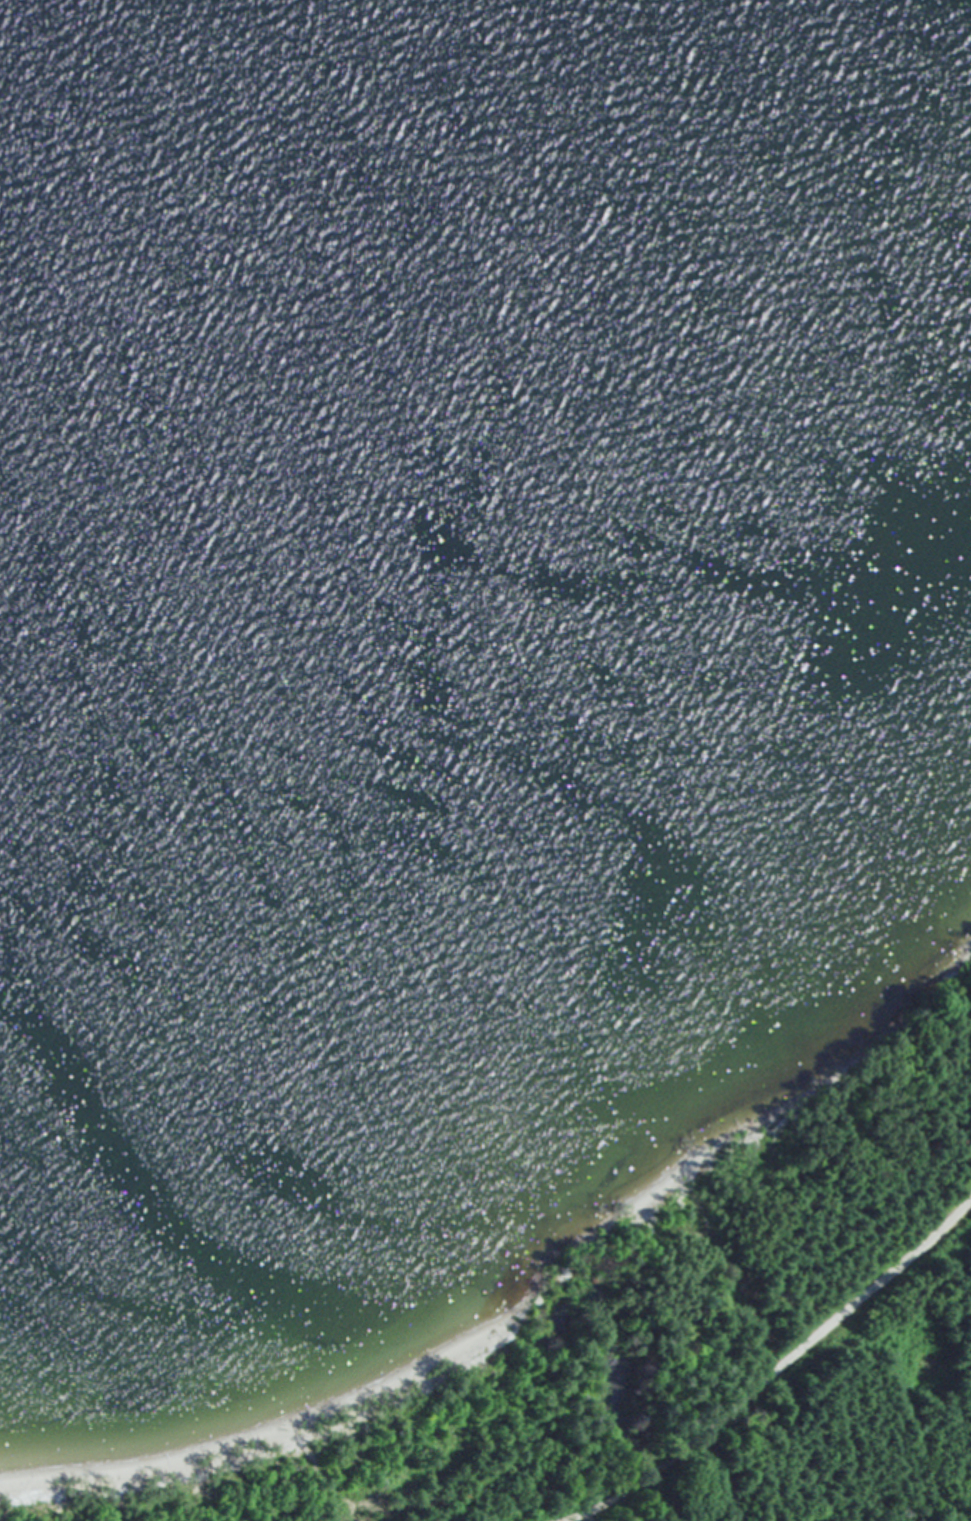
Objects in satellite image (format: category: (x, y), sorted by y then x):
road: (909, 1350)
road: (781, 1367)

